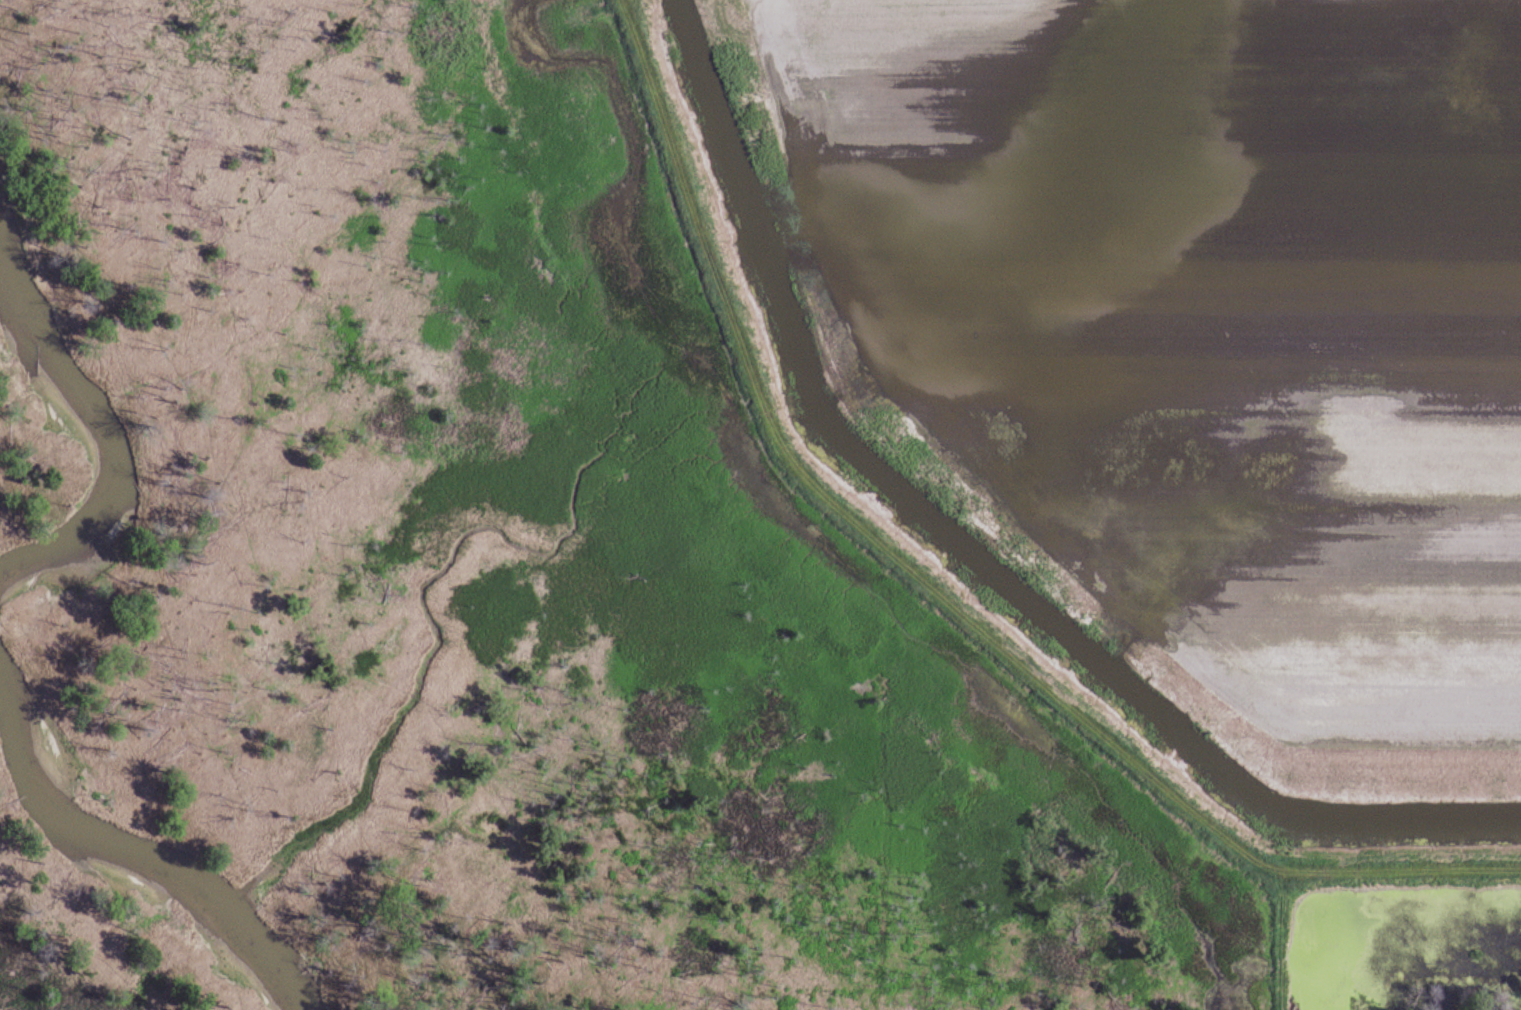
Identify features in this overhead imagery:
road: (908, 544)

